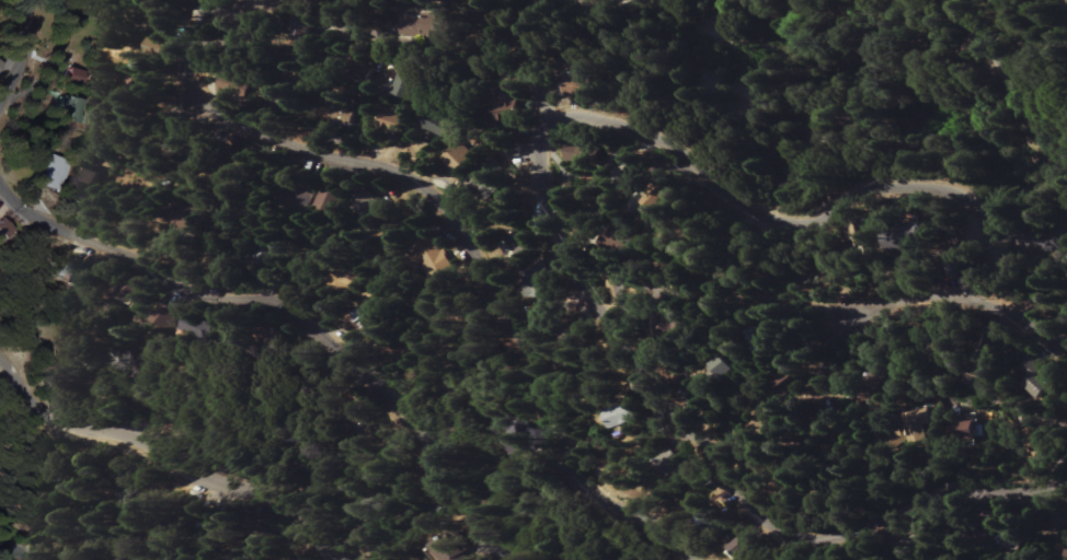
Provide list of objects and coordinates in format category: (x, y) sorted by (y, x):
building: (192, 1)
building: (167, 20)
building: (428, 26)
road: (463, 51)
road: (22, 56)
building: (72, 77)
building: (580, 83)
building: (410, 84)
building: (508, 106)
building: (69, 110)
building: (348, 115)
building: (394, 122)
building: (441, 126)
building: (584, 155)
building: (463, 160)
building: (634, 171)
building: (50, 173)
road: (926, 179)
building: (88, 182)
building: (491, 183)
building: (300, 199)
building: (329, 199)
building: (665, 201)
building: (543, 212)
building: (367, 213)
building: (3, 229)
road: (467, 241)
building: (520, 244)
building: (627, 244)
building: (904, 248)
building: (265, 255)
building: (436, 264)
building: (70, 273)
building: (539, 293)
building: (130, 294)
road: (957, 299)
building: (165, 315)
road: (294, 322)
building: (689, 326)
building: (195, 328)
building: (573, 339)
building: (741, 370)
building: (800, 378)
building: (1047, 383)
building: (623, 416)
building: (363, 419)
building: (938, 425)
building: (983, 431)
road: (712, 460)
road: (172, 462)
building: (674, 462)
building: (713, 518)
building: (1011, 539)
road: (24, 545)
building: (745, 546)
building: (454, 548)
building: (1066, 550)

